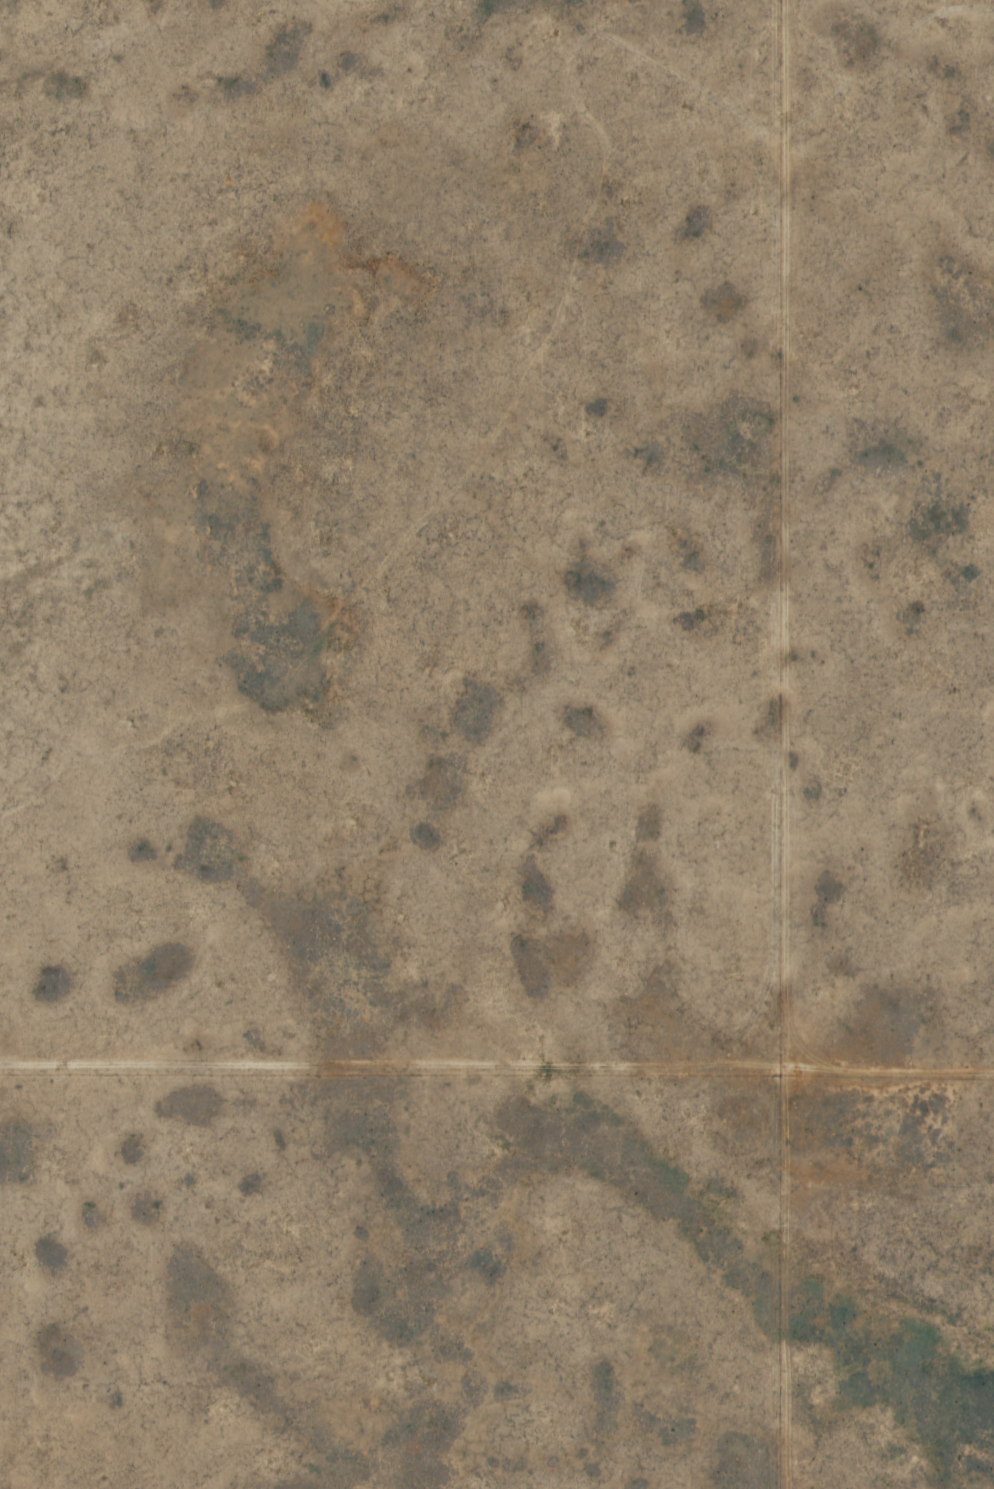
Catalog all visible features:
road: (496, 1003)

